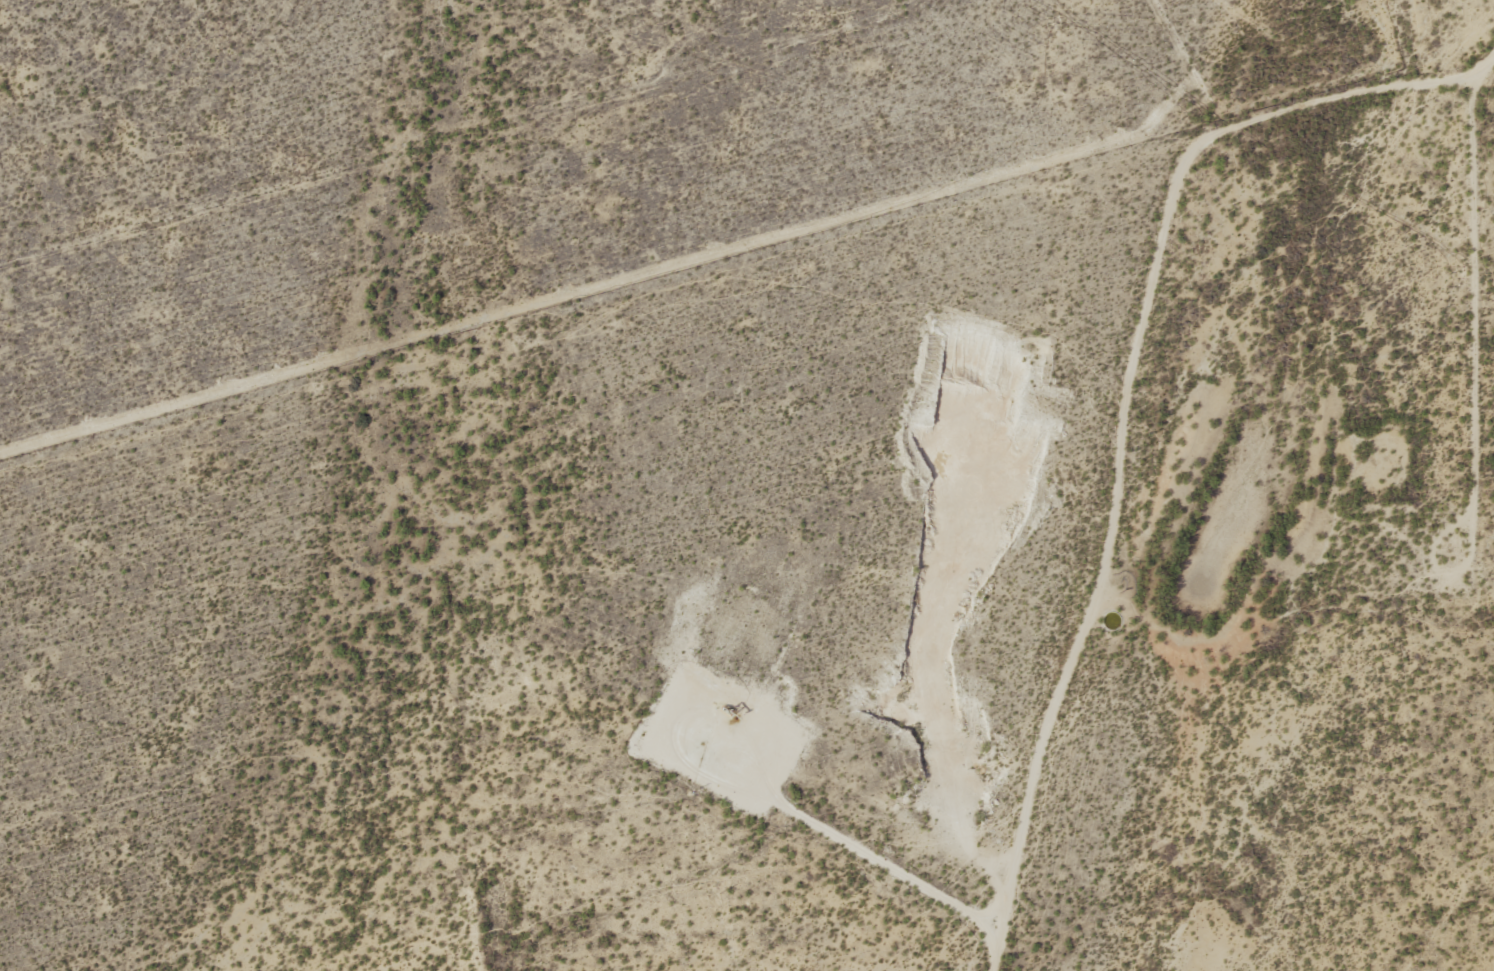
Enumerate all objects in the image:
road: (1122, 480)

